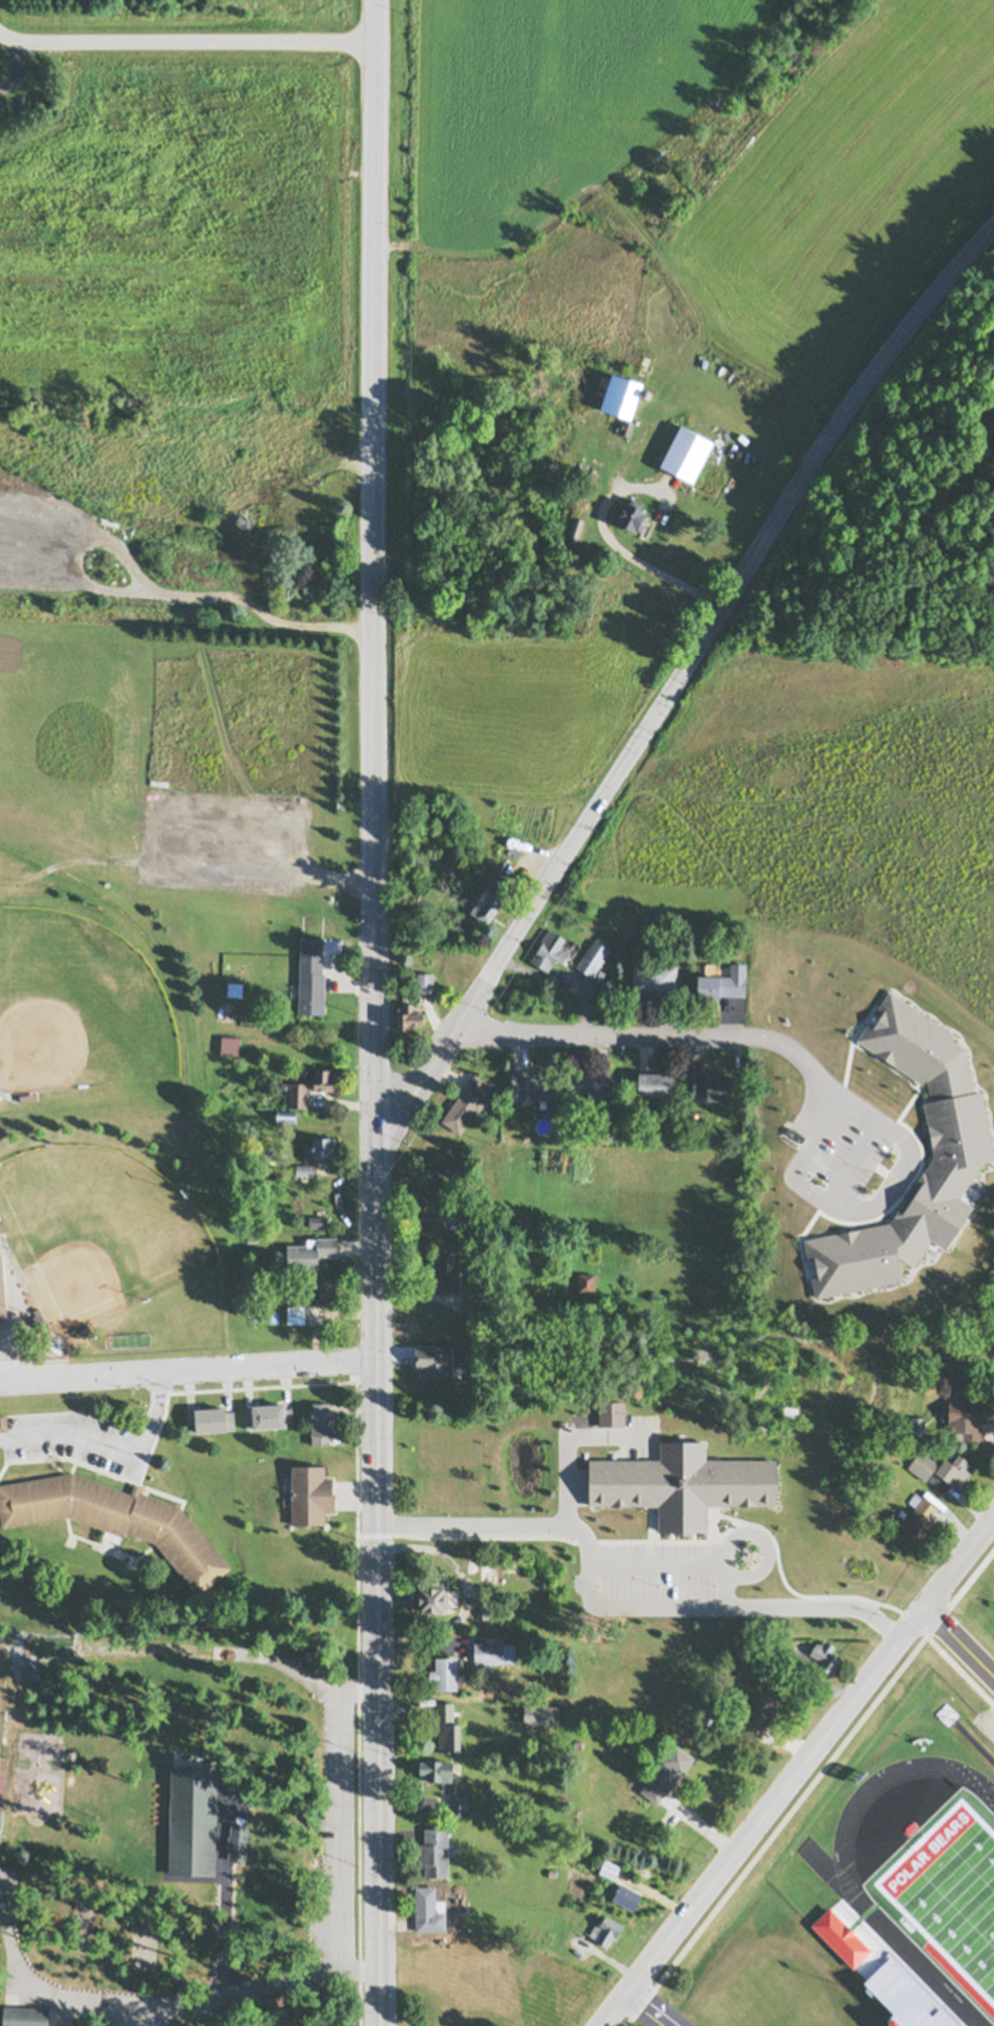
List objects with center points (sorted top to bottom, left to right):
road: (187, 41)
road: (685, 47)
road: (12, 63)
building: (646, 393)
building: (621, 395)
building: (991, 401)
building: (336, 410)
building: (627, 426)
building: (986, 428)
building: (284, 452)
building: (686, 453)
building: (213, 458)
building: (577, 478)
building: (333, 488)
building: (633, 515)
building: (577, 530)
building: (298, 538)
building: (257, 539)
road: (618, 540)
building: (217, 587)
parking lot: (224, 840)
road: (340, 879)
building: (491, 899)
building: (670, 931)
building: (549, 951)
building: (593, 958)
road: (494, 968)
building: (655, 980)
building: (425, 982)
building: (723, 984)
building: (311, 985)
building: (235, 989)
park: (78, 1009)
road: (374, 1013)
building: (409, 1018)
road: (592, 1037)
building: (229, 1045)
building: (320, 1079)
building: (588, 1083)
building: (655, 1085)
building: (529, 1086)
building: (712, 1086)
building: (298, 1095)
building: (28, 1097)
building: (468, 1103)
building: (286, 1116)
building: (604, 1133)
park: (104, 1140)
building: (321, 1149)
road: (847, 1156)
building: (305, 1170)
road: (796, 1178)
building: (427, 1203)
building: (474, 1212)
building: (318, 1222)
park: (94, 1226)
building: (252, 1236)
building: (310, 1253)
building: (446, 1267)
building: (586, 1281)
building: (320, 1291)
building: (2, 1293)
building: (473, 1300)
building: (295, 1313)
building: (427, 1351)
road: (188, 1370)
building: (268, 1418)
building: (211, 1421)
building: (3, 1422)
building: (962, 1423)
building: (322, 1424)
building: (917, 1427)
road: (559, 1431)
road: (112, 1447)
building: (941, 1471)
building: (683, 1484)
building: (438, 1495)
building: (310, 1496)
building: (115, 1519)
building: (920, 1521)
road: (733, 1529)
building: (468, 1547)
road: (651, 1558)
building: (472, 1564)
road: (722, 1581)
building: (894, 1587)
building: (876, 1588)
road: (611, 1600)
building: (435, 1602)
building: (487, 1614)
road: (960, 1641)
building: (493, 1653)
building: (792, 1657)
building: (826, 1659)
road: (190, 1662)
building: (446, 1675)
building: (541, 1714)
building: (760, 1715)
building: (447, 1730)
building: (578, 1744)
building: (436, 1773)
road: (796, 1773)
building: (667, 1775)
park: (192, 1780)
building: (459, 1807)
building: (1, 1818)
building: (192, 1822)
building: (237, 1845)
building: (437, 1854)
building: (609, 1871)
building: (552, 1872)
track: (935, 1876)
park: (942, 1887)
track: (849, 1891)
building: (627, 1899)
building: (428, 1913)
building: (605, 1931)
park: (0, 1981)
road: (174, 2004)
road: (651, 2007)
building: (24, 2016)
building: (917, 2019)

